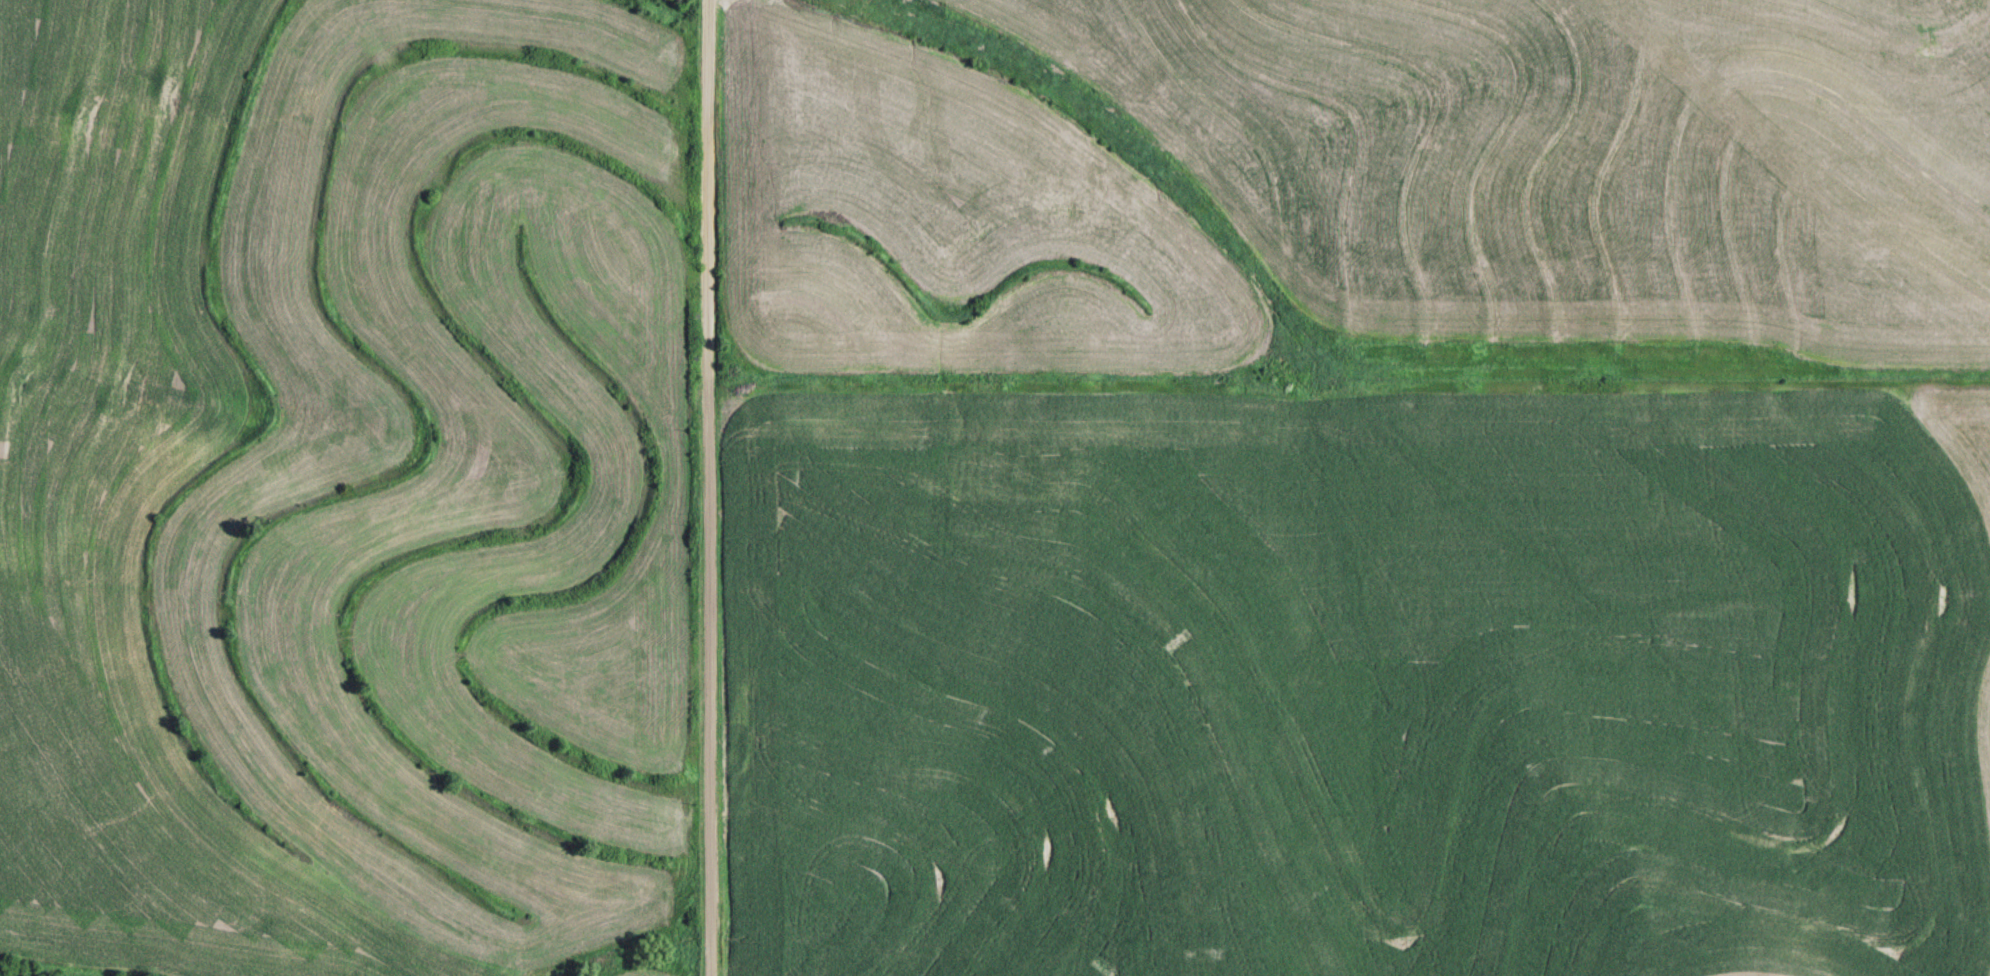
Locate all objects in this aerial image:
road: (701, 488)

